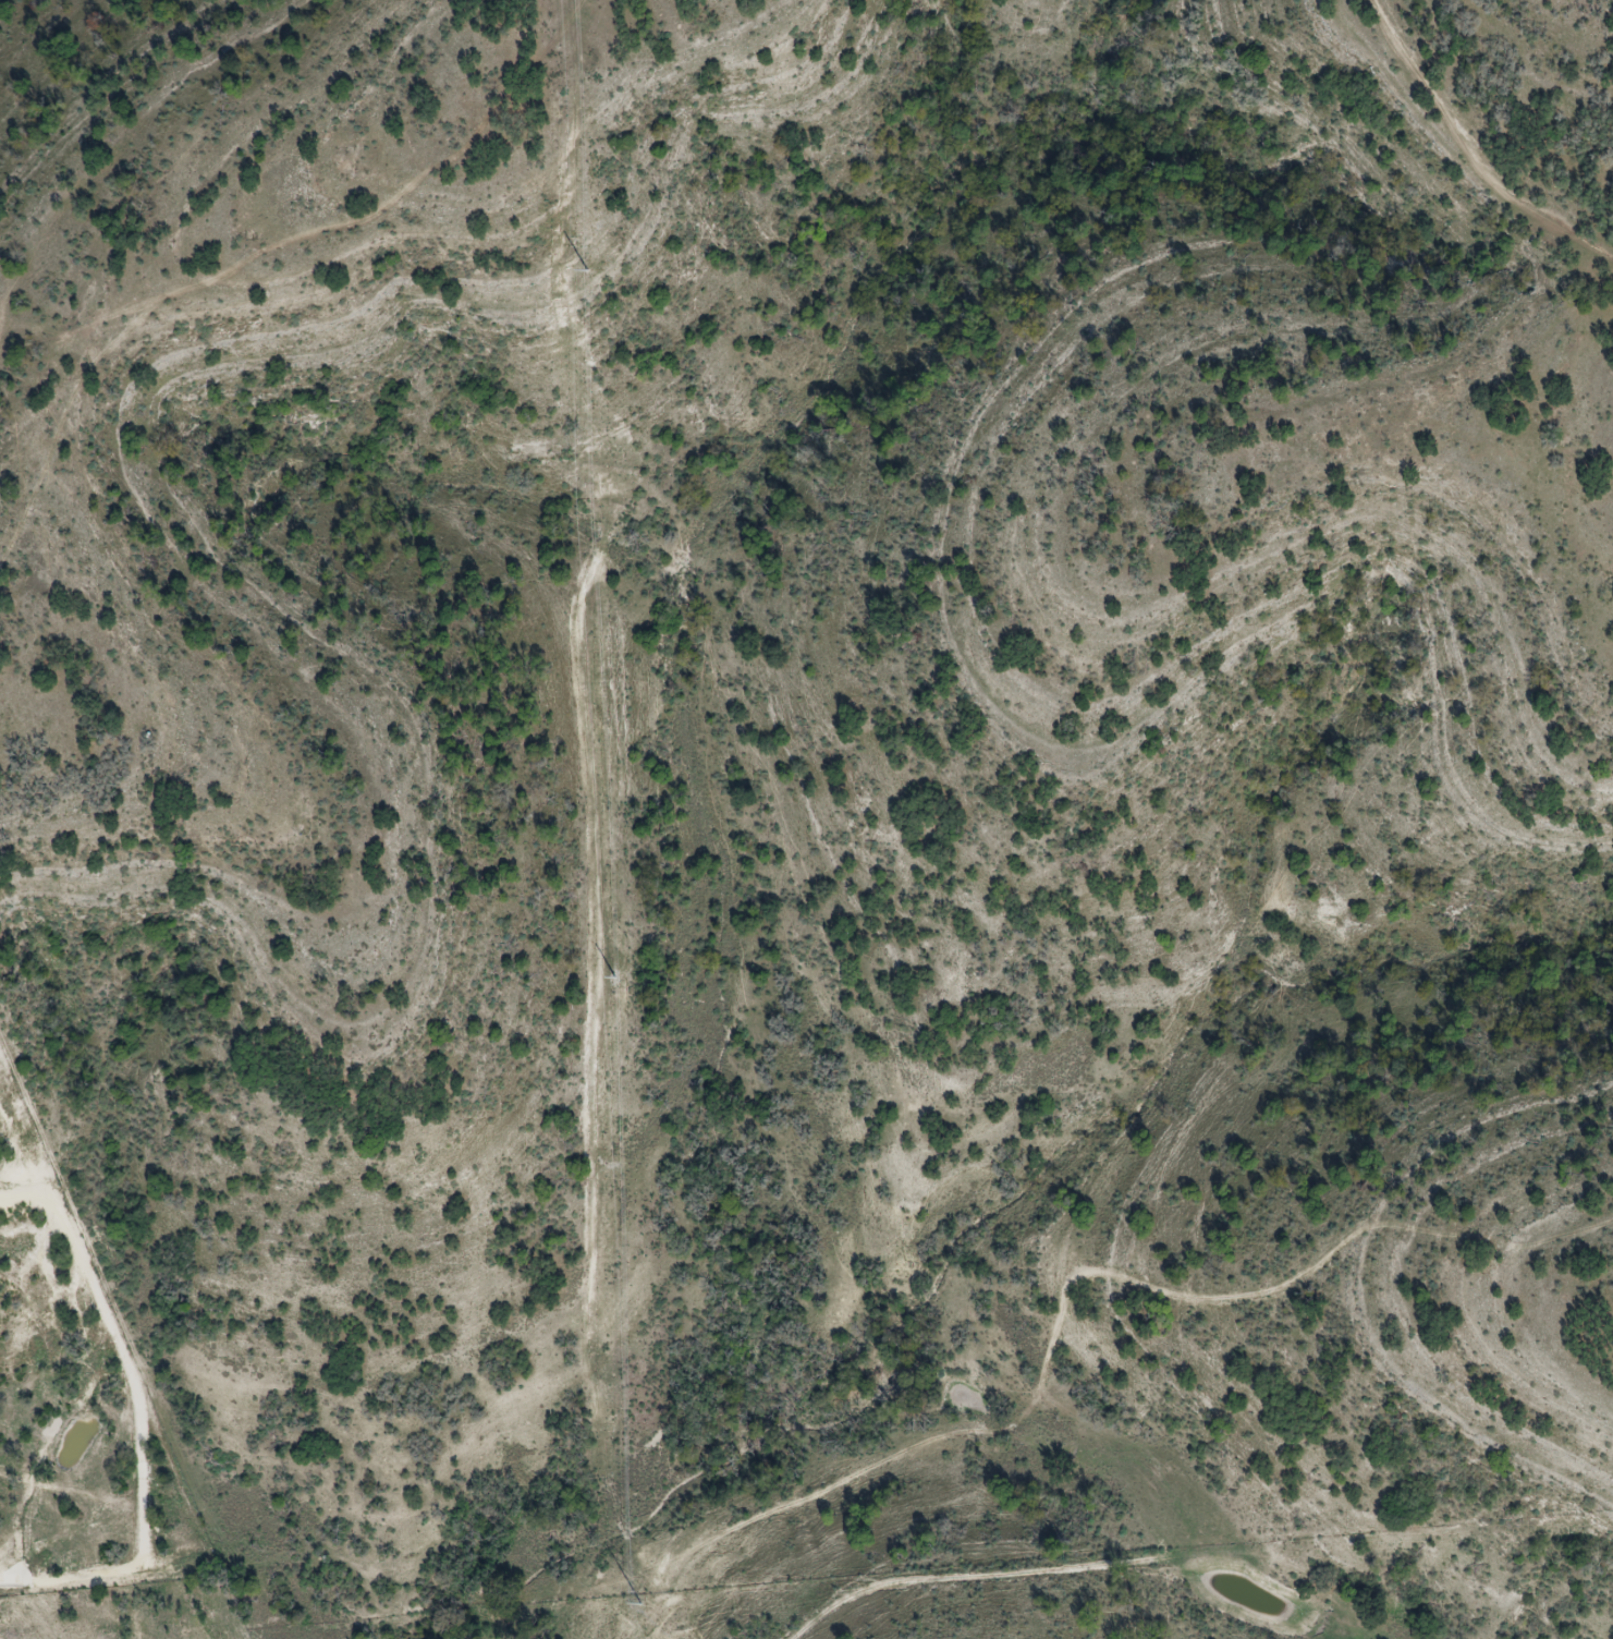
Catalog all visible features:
power tower: (592, 271)
power tower: (606, 976)
power tower: (636, 1604)

